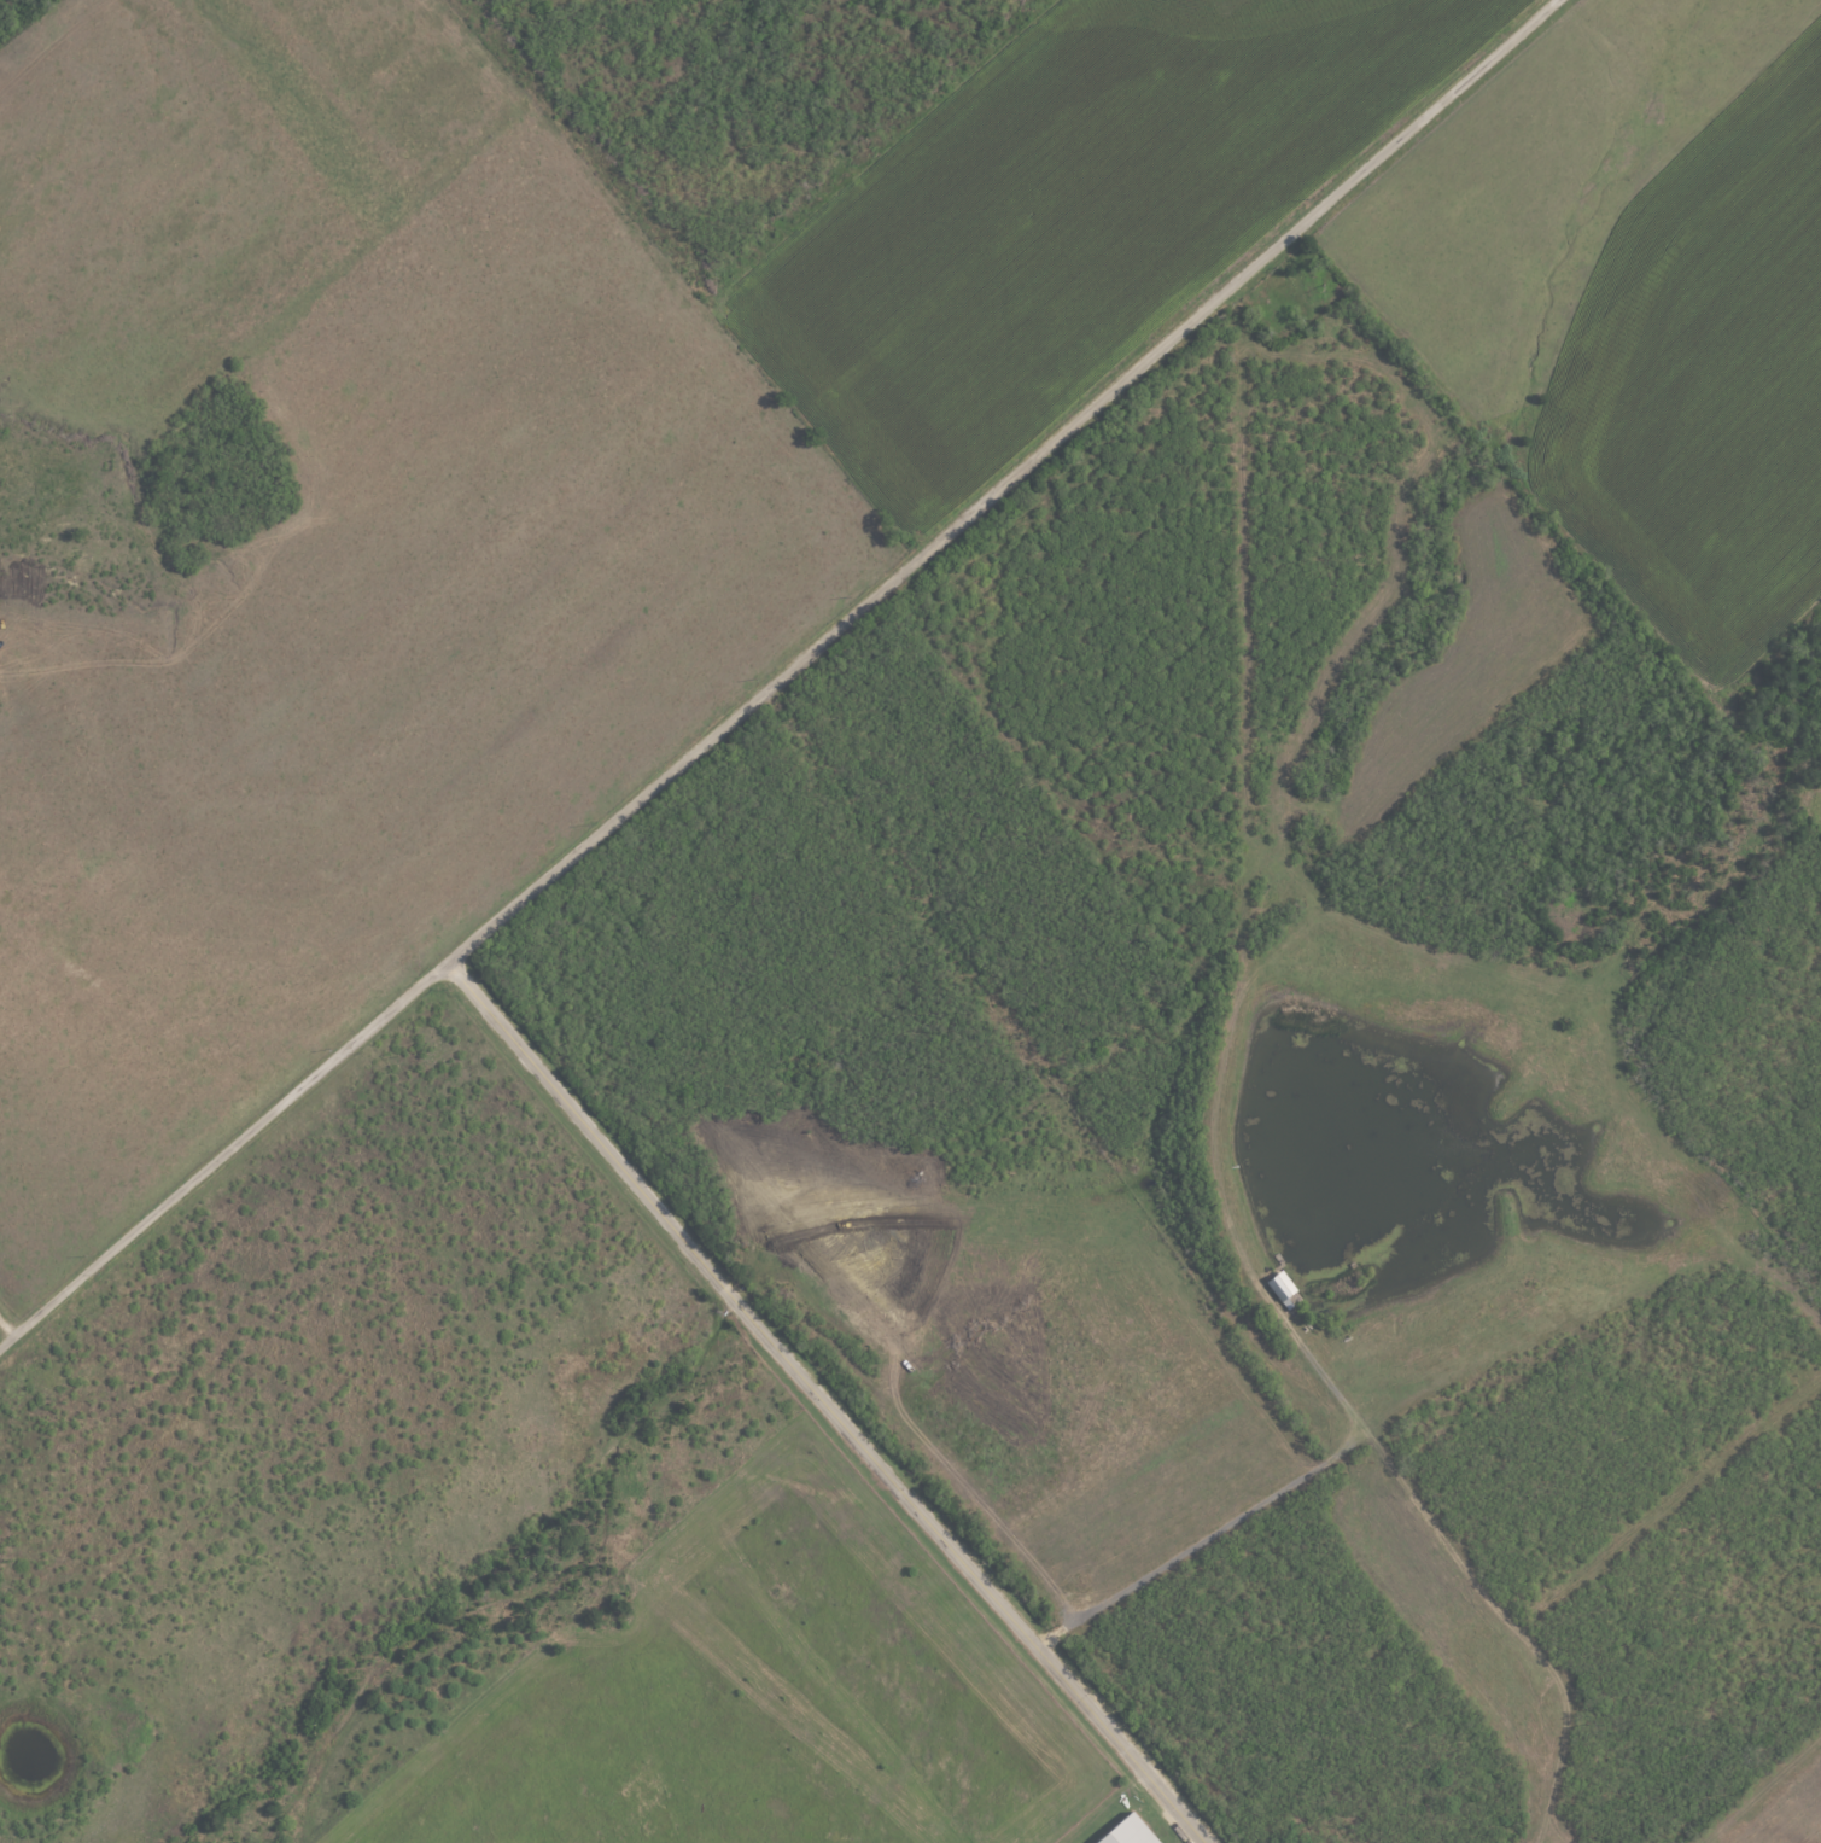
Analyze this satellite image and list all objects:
park: (1284, 303)
road: (781, 677)
road: (4, 1337)
road: (828, 1405)
building: (1126, 1831)

